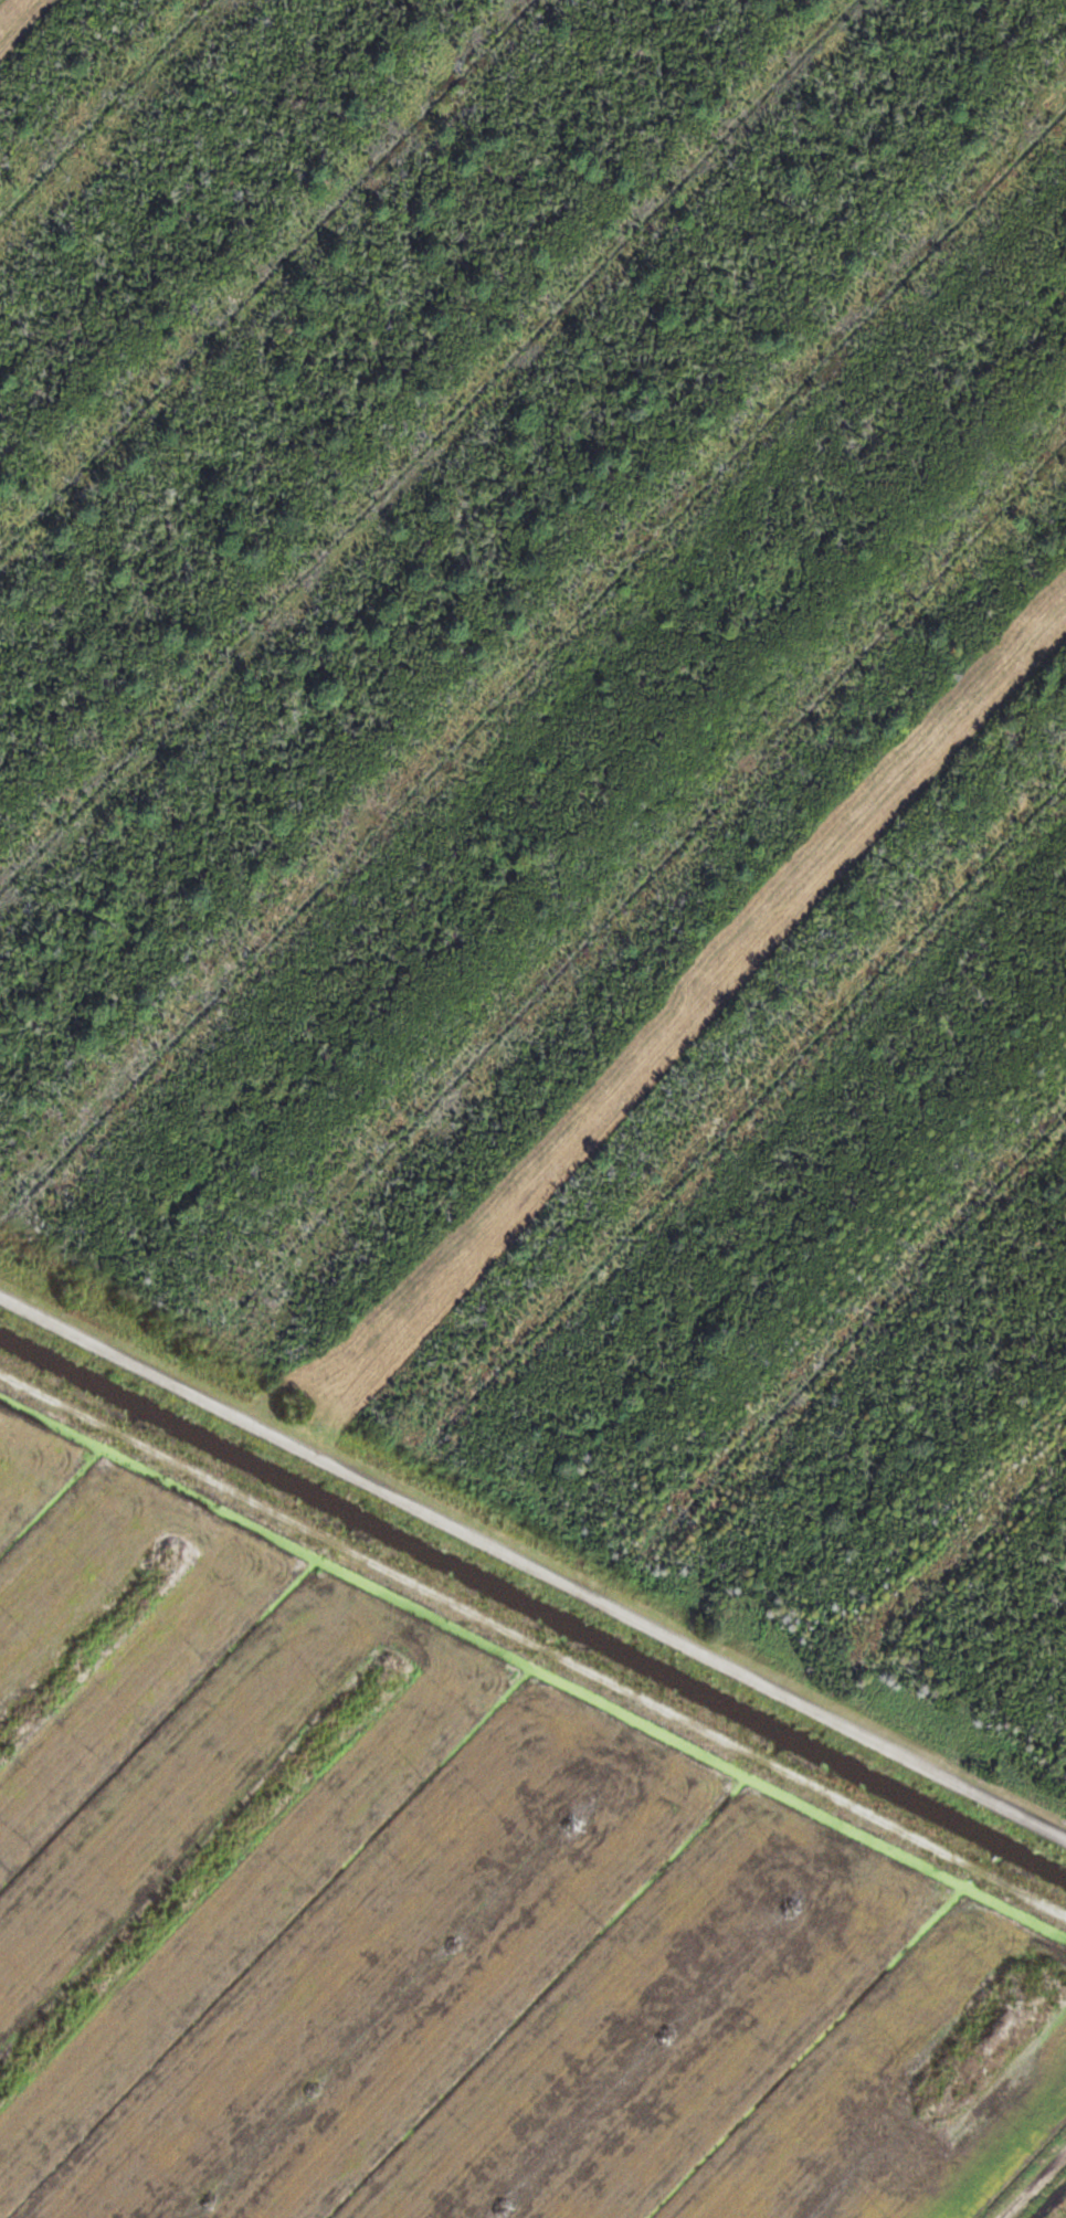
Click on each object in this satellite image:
road: (532, 1572)
road: (1026, 2177)

